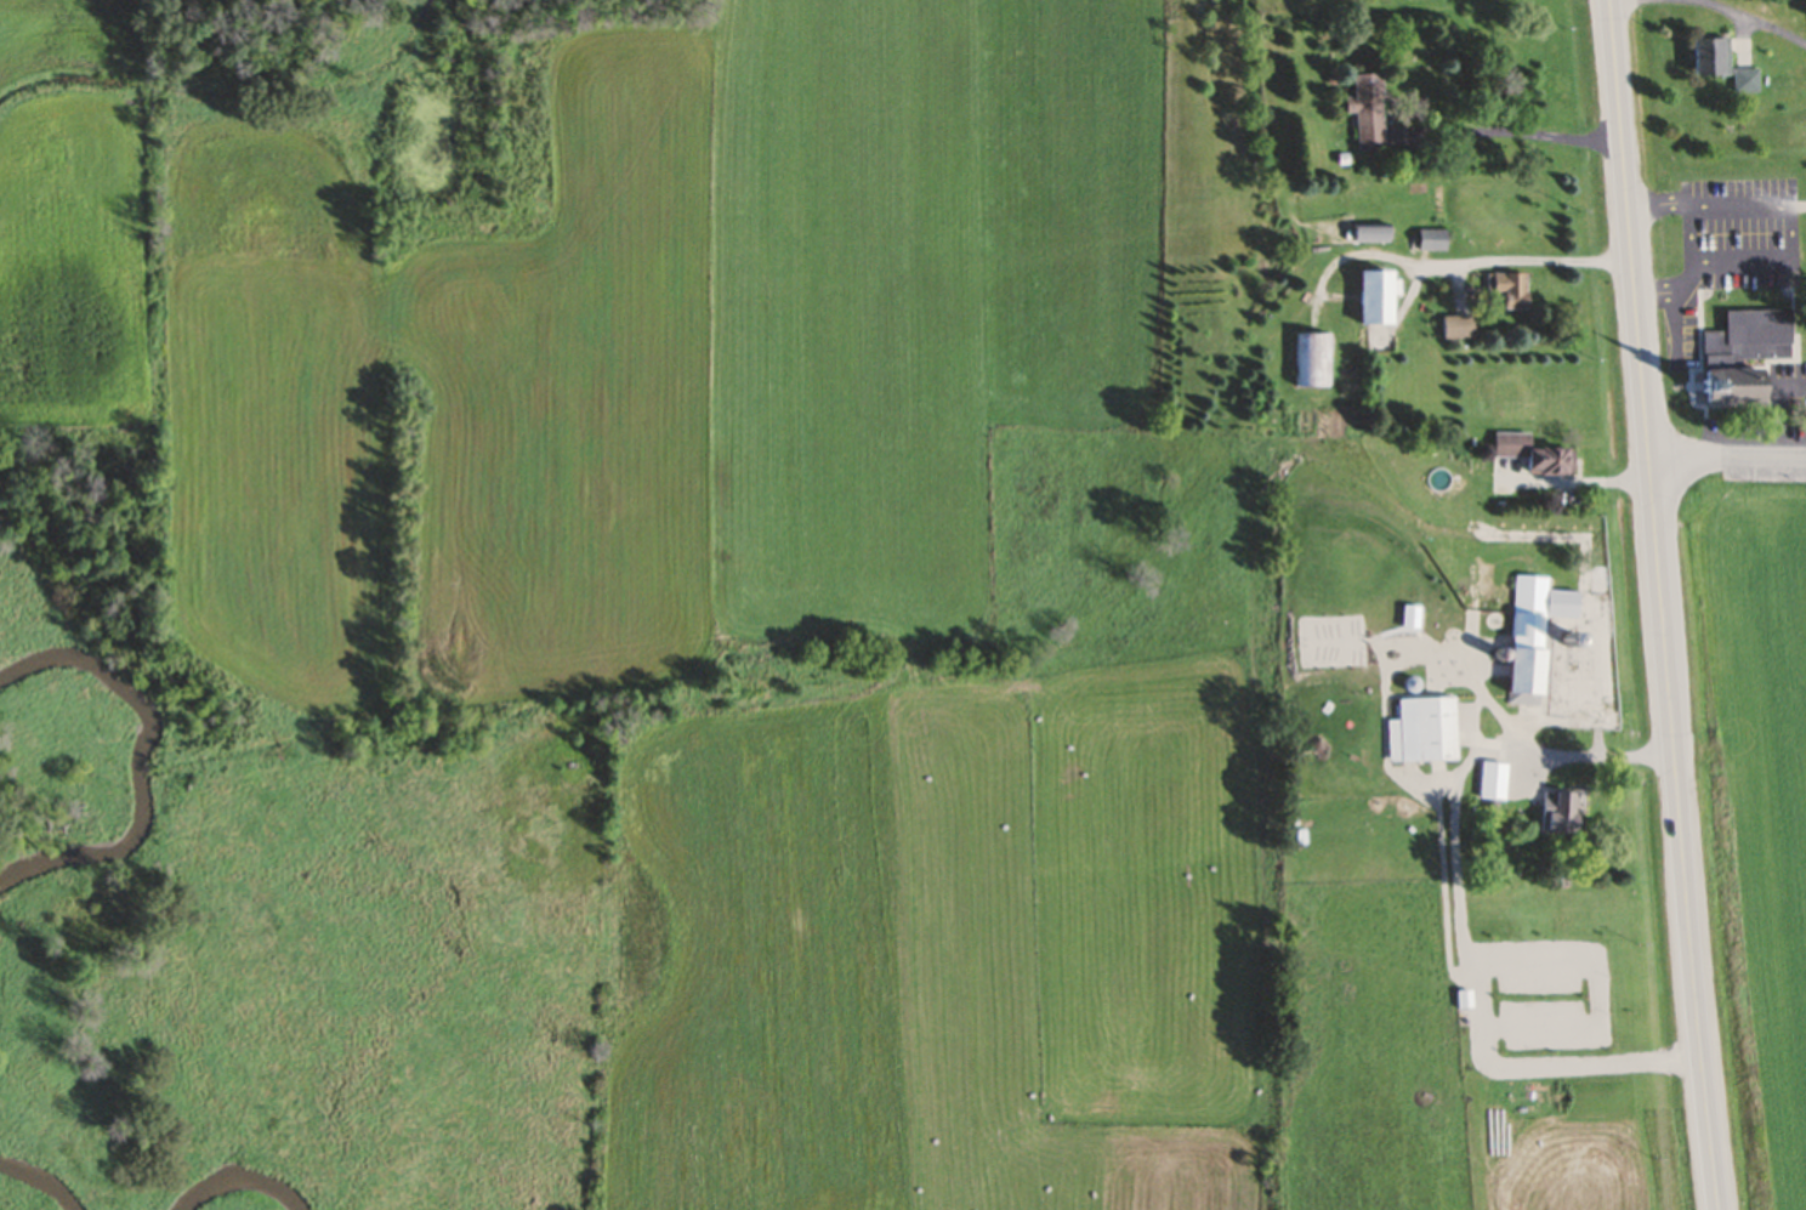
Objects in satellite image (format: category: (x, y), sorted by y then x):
road: (1713, 7)
building: (1805, 11)
building: (1709, 59)
building: (1744, 84)
building: (1363, 113)
road: (1511, 137)
road: (1660, 205)
road: (1795, 211)
building: (1427, 243)
road: (1785, 262)
road: (1513, 274)
building: (1505, 291)
road: (1674, 295)
building: (1365, 301)
building: (1453, 330)
building: (1749, 340)
building: (1307, 363)
building: (1730, 388)
road: (1778, 411)
road: (1728, 454)
building: (1530, 458)
road: (1664, 604)
building: (1529, 638)
building: (1424, 733)
road: (1598, 756)
building: (1493, 791)
building: (1555, 817)
building: (1464, 1002)

